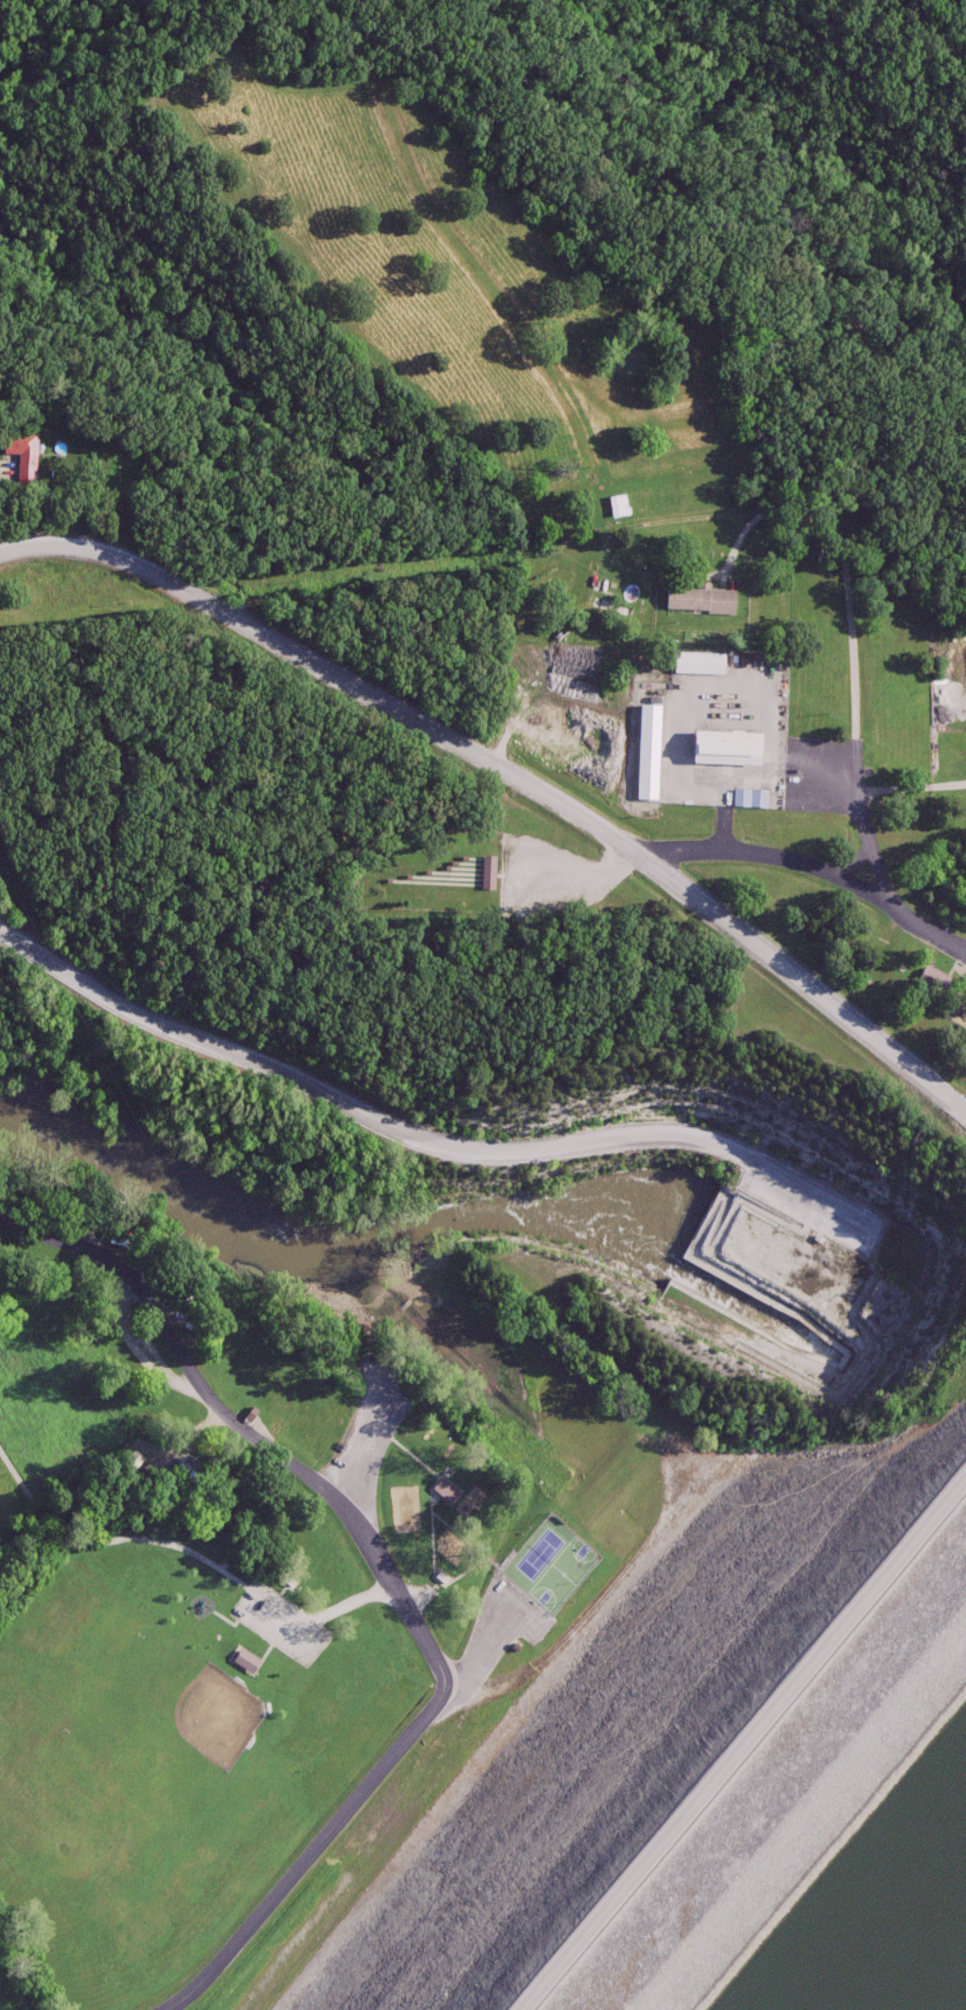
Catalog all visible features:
building: (19, 457)
road: (7, 463)
building: (616, 508)
road: (709, 520)
building: (697, 602)
building: (696, 666)
road: (332, 674)
building: (723, 749)
building: (645, 754)
road: (771, 765)
road: (915, 788)
building: (747, 799)
road: (816, 866)
building: (928, 980)
road: (808, 982)
road: (421, 1135)
building: (184, 1463)
building: (442, 1493)
road: (390, 1577)
road: (320, 1614)
building: (244, 1662)
dam: (647, 1676)
road: (754, 1755)

